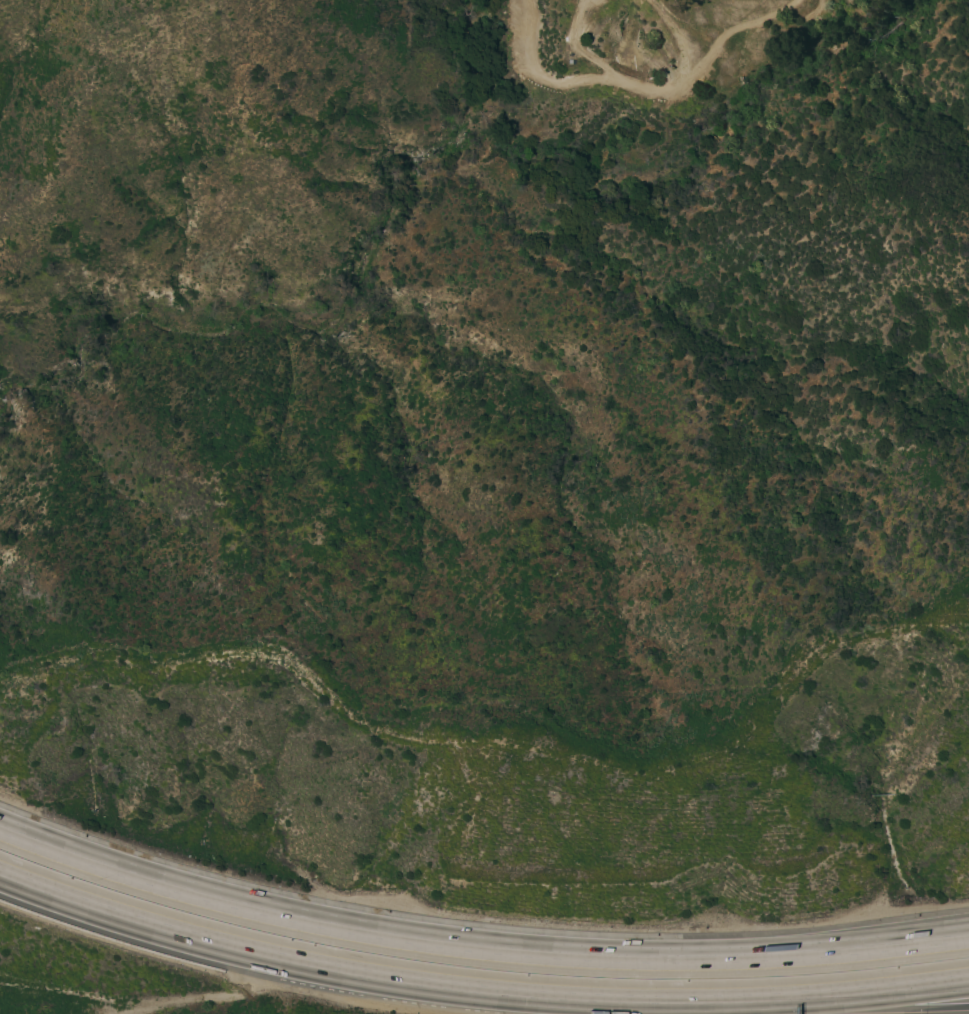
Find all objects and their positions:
road: (575, 81)
road: (948, 936)
road: (476, 945)
road: (329, 971)
road: (820, 1000)
road: (712, 1009)
road: (889, 1009)

